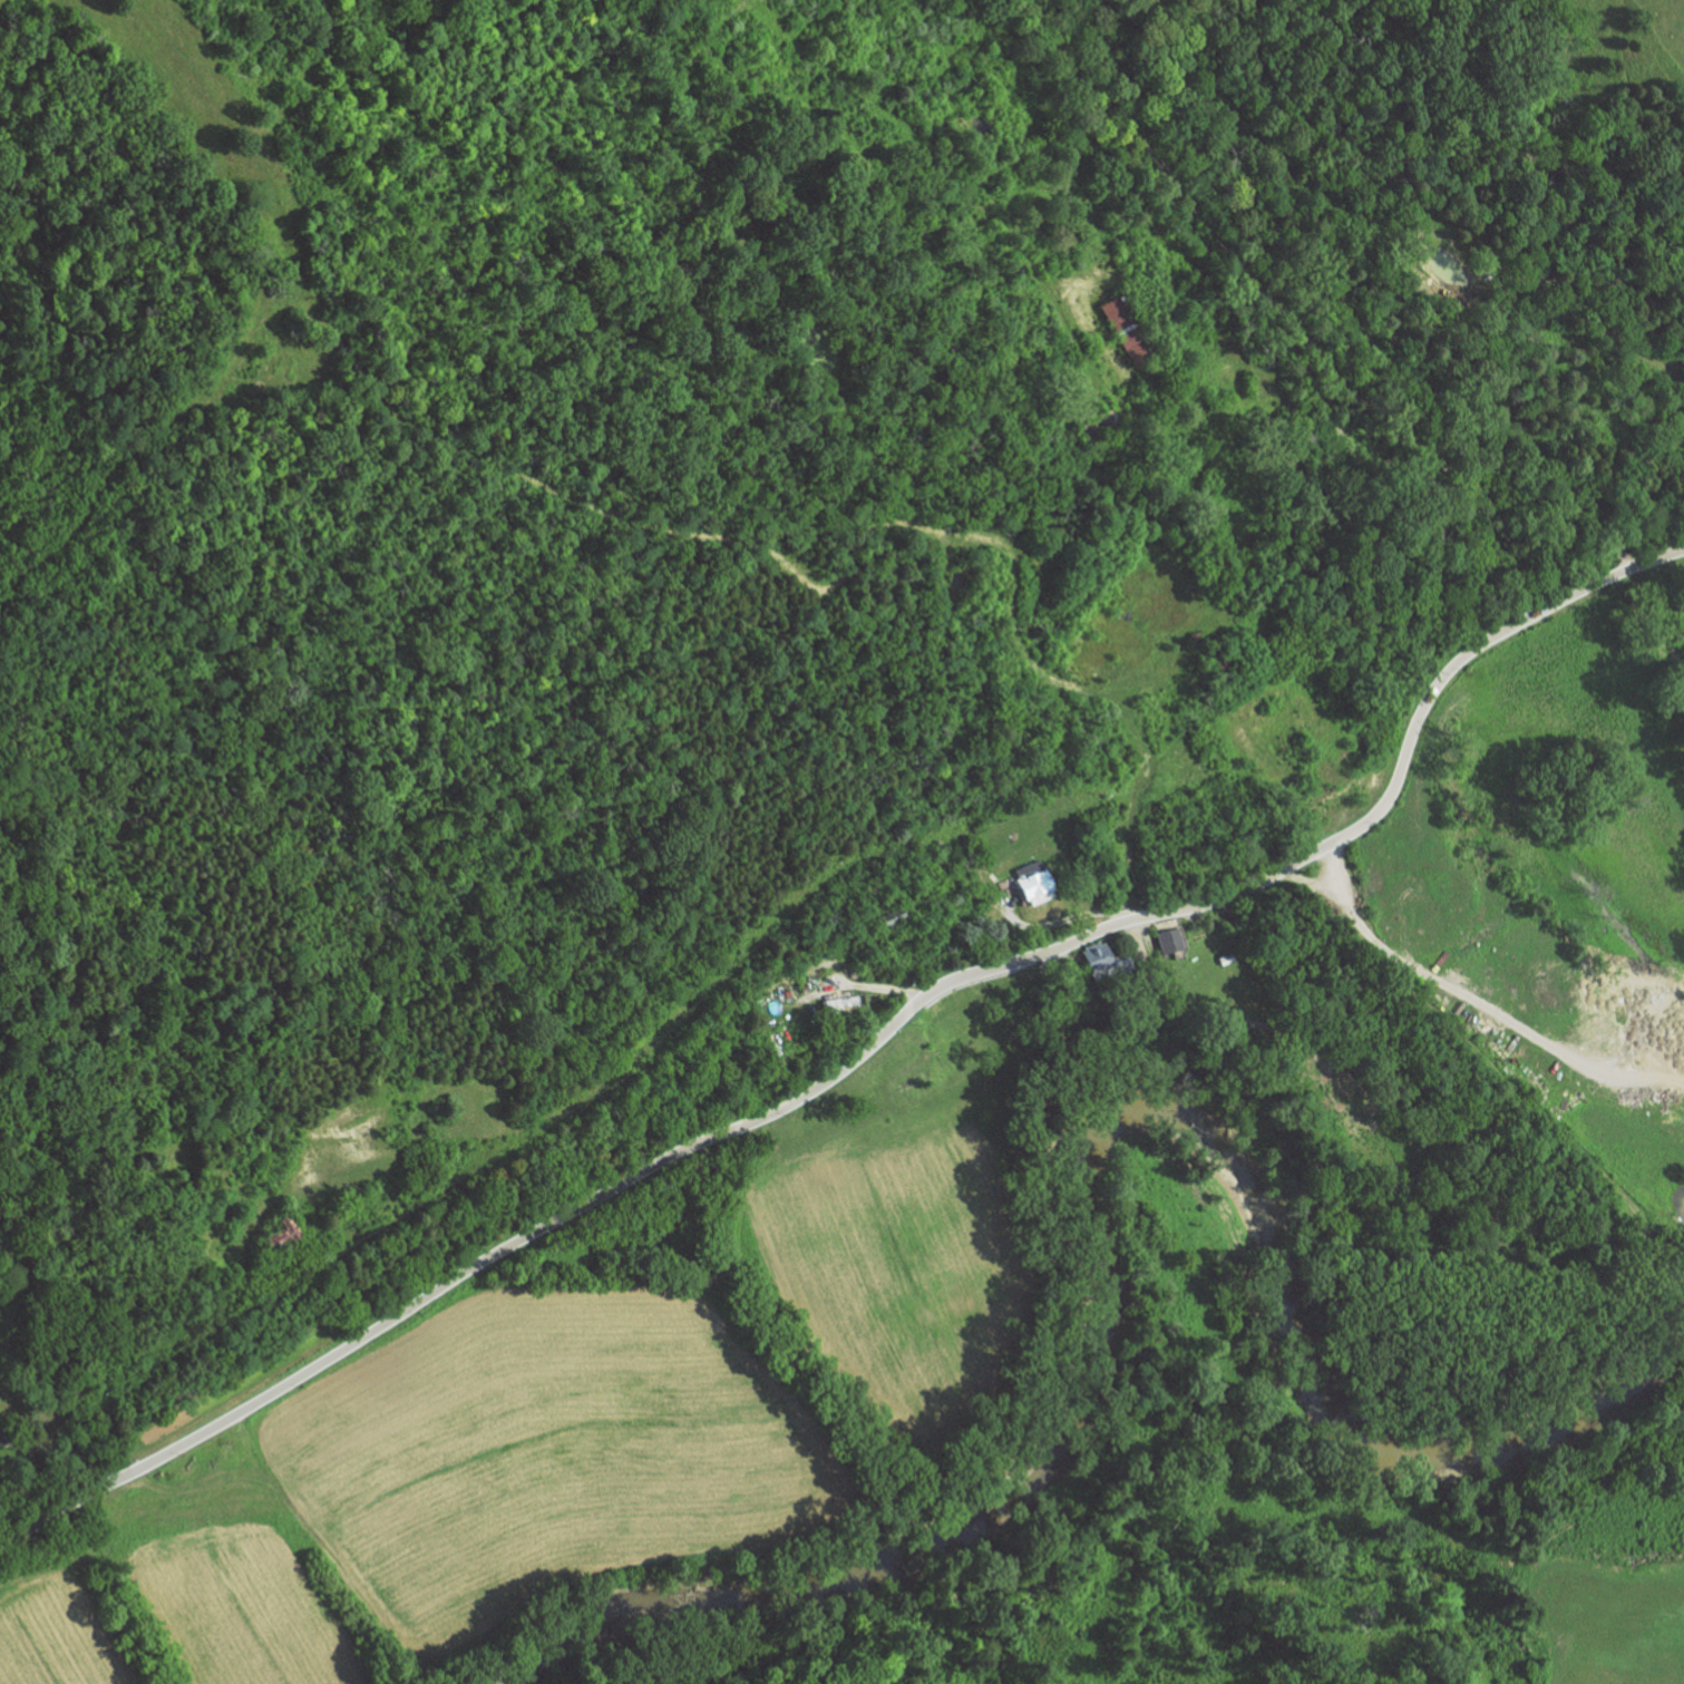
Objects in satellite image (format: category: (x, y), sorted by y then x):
crop: (208, 171)
road: (1297, 329)
road: (859, 544)
road: (1057, 922)
road: (865, 1049)
road: (61, 1452)

